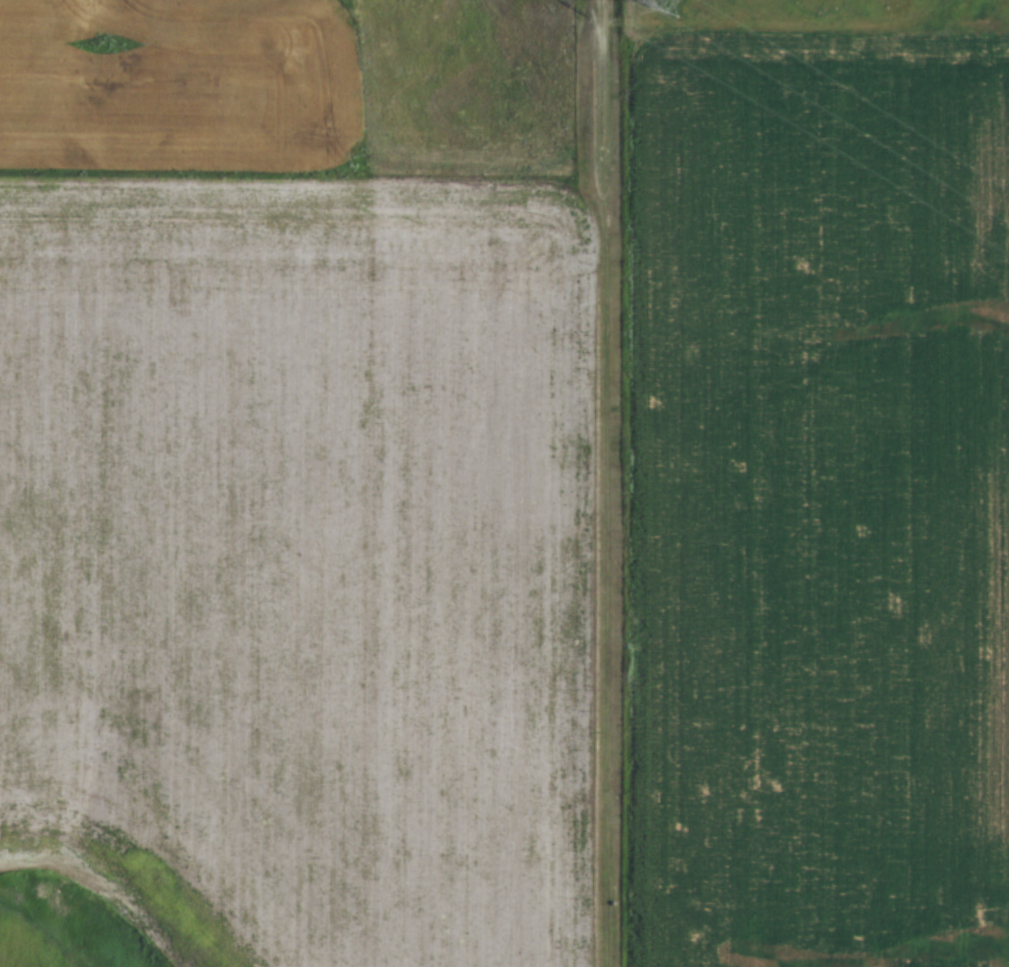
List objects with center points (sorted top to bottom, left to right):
road: (614, 483)

